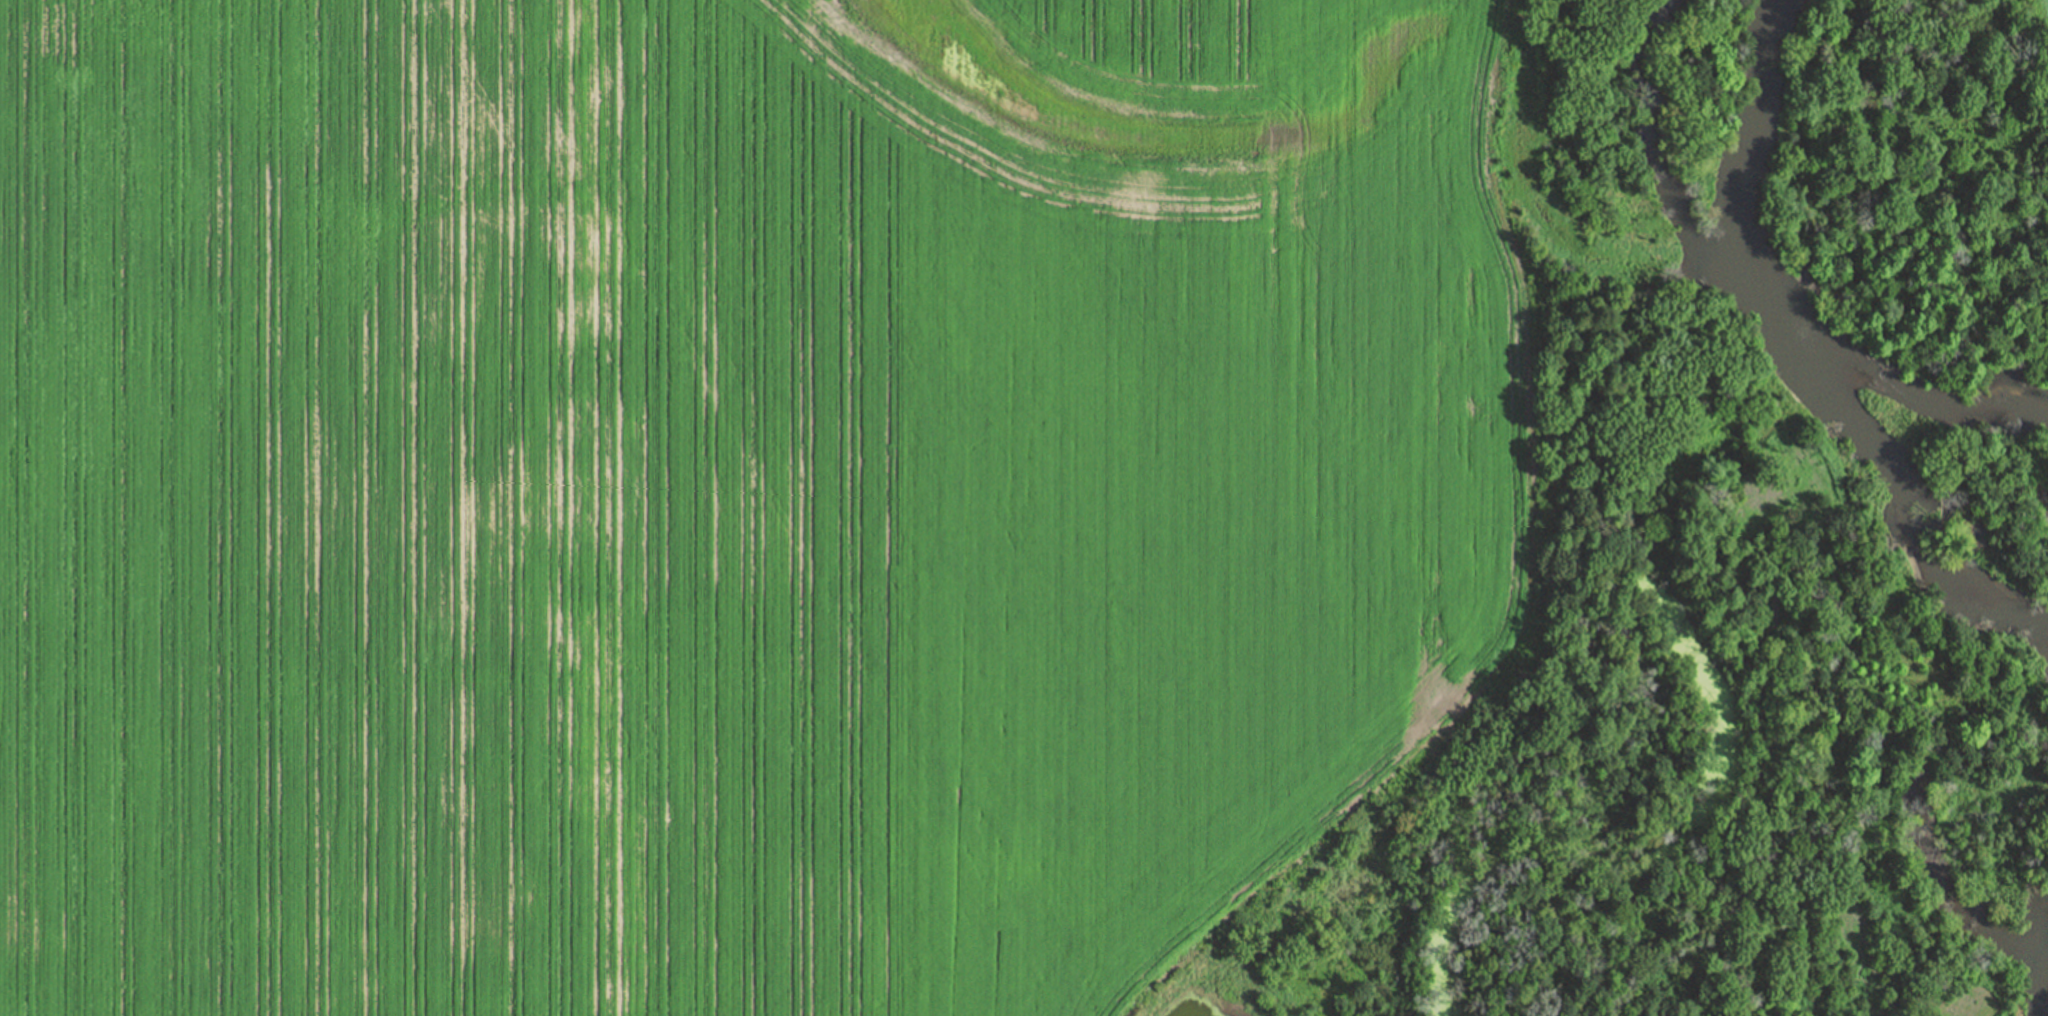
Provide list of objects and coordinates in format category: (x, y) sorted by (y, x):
river: (1771, 295)
road: (1813, 488)

